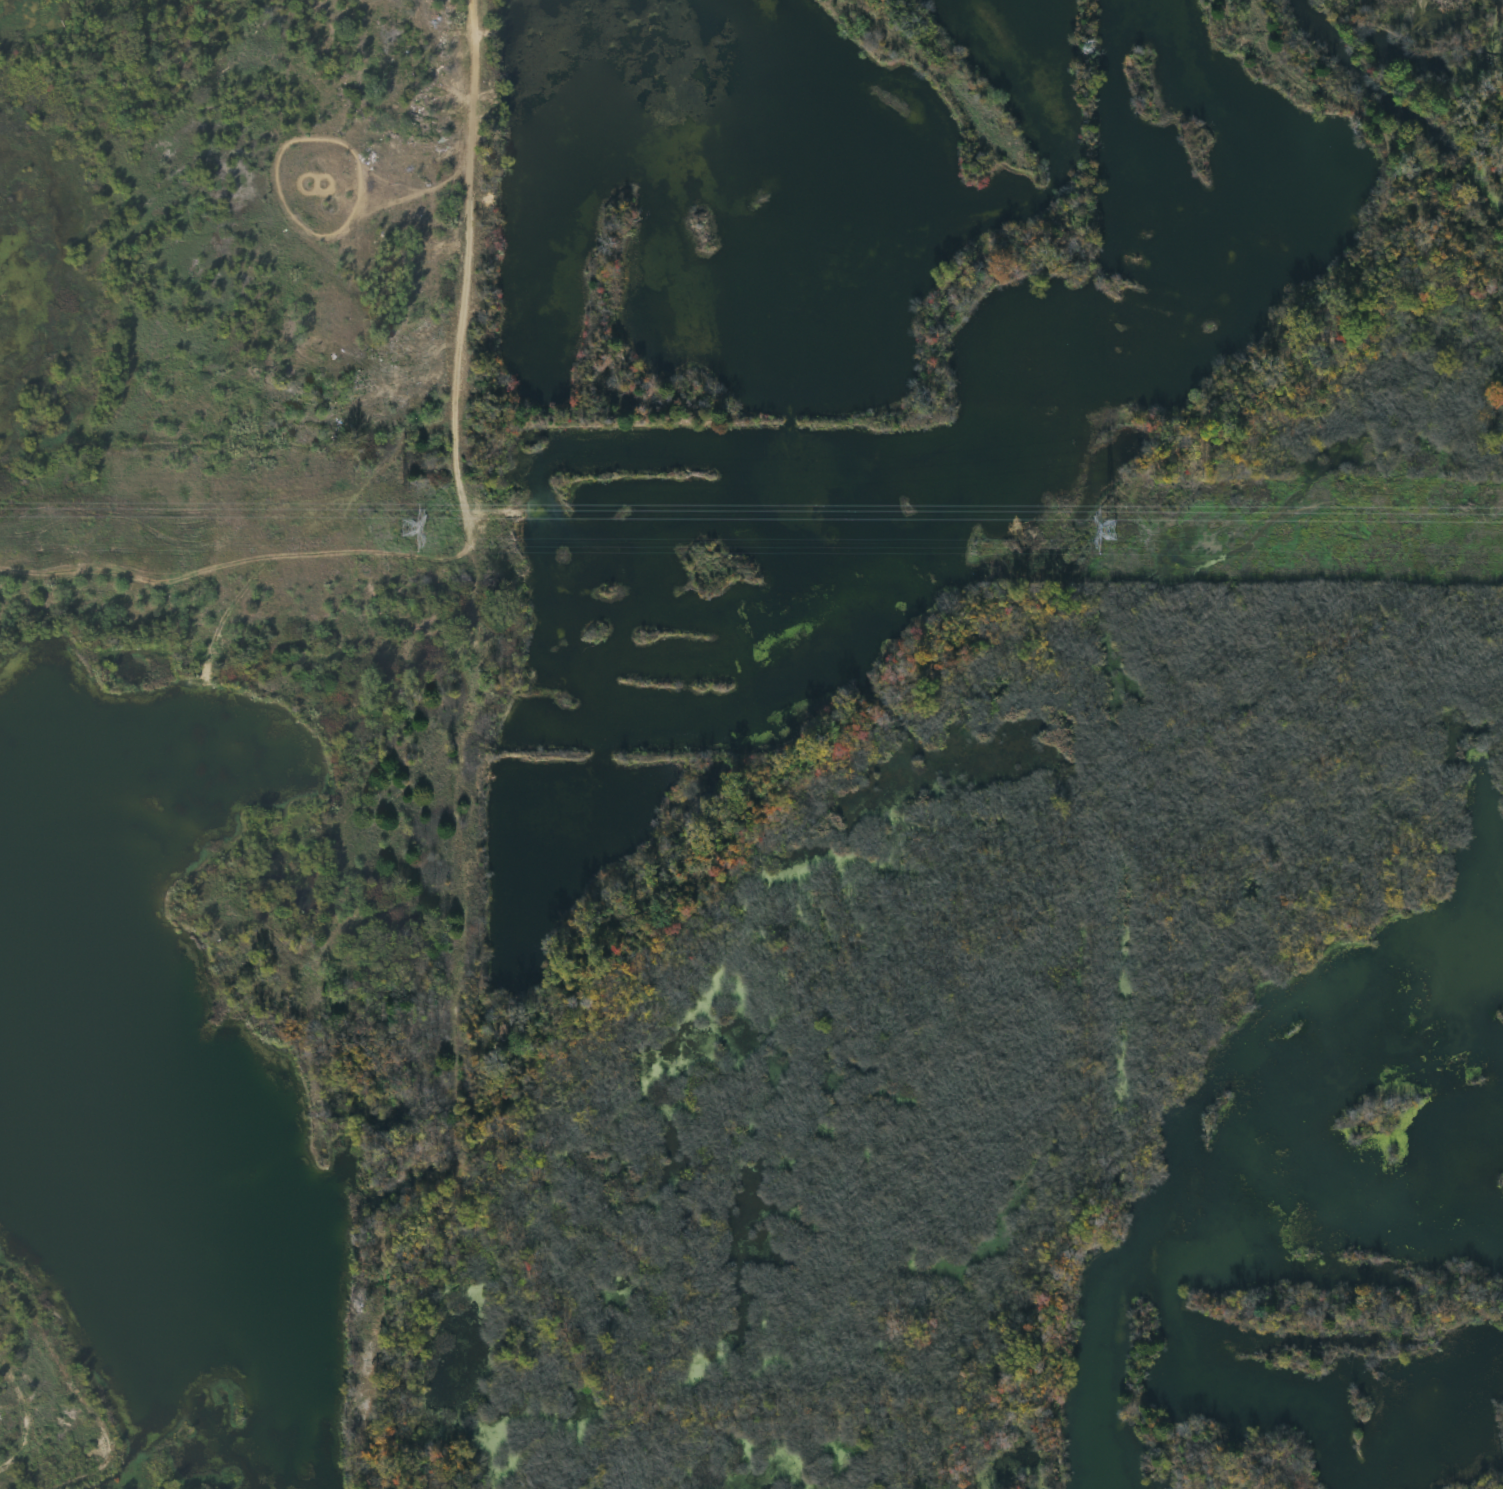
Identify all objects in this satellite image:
power tower: (406, 530)
power tower: (1112, 533)

